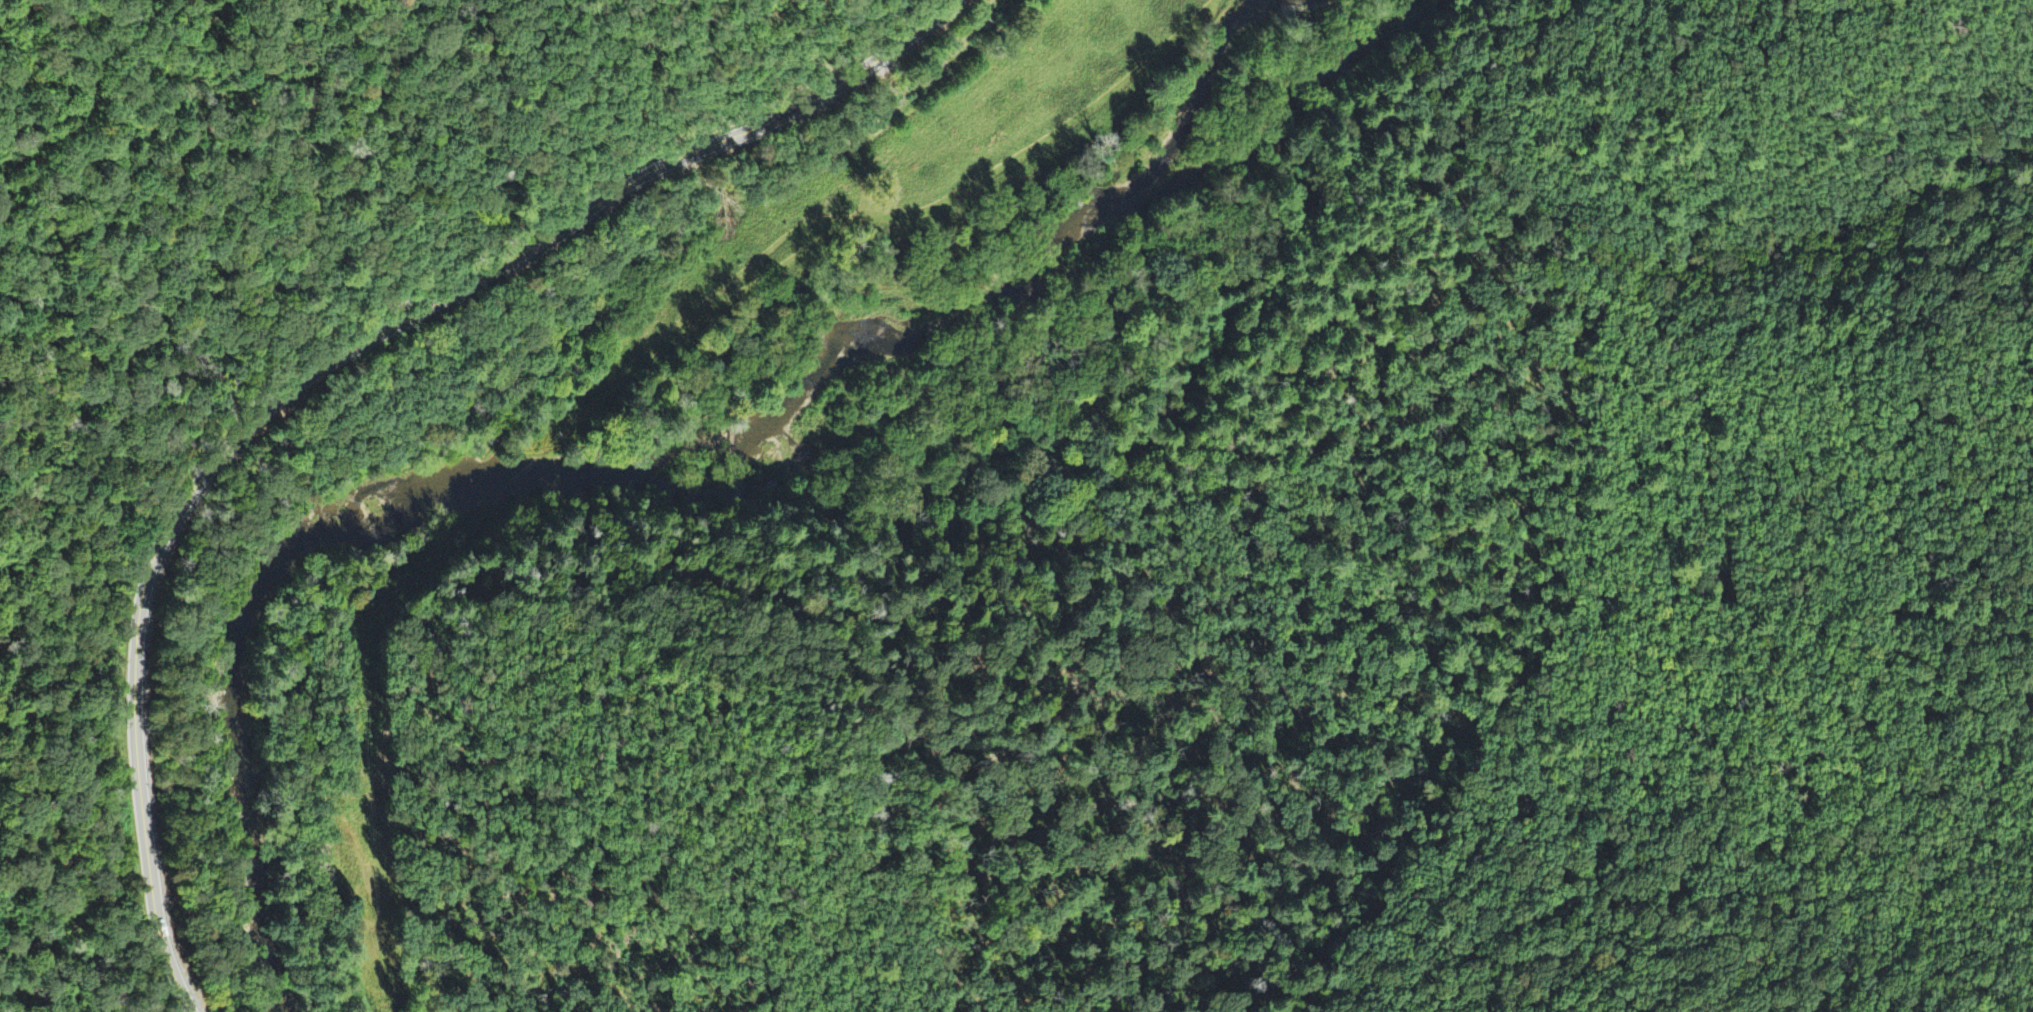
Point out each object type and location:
road: (330, 366)

